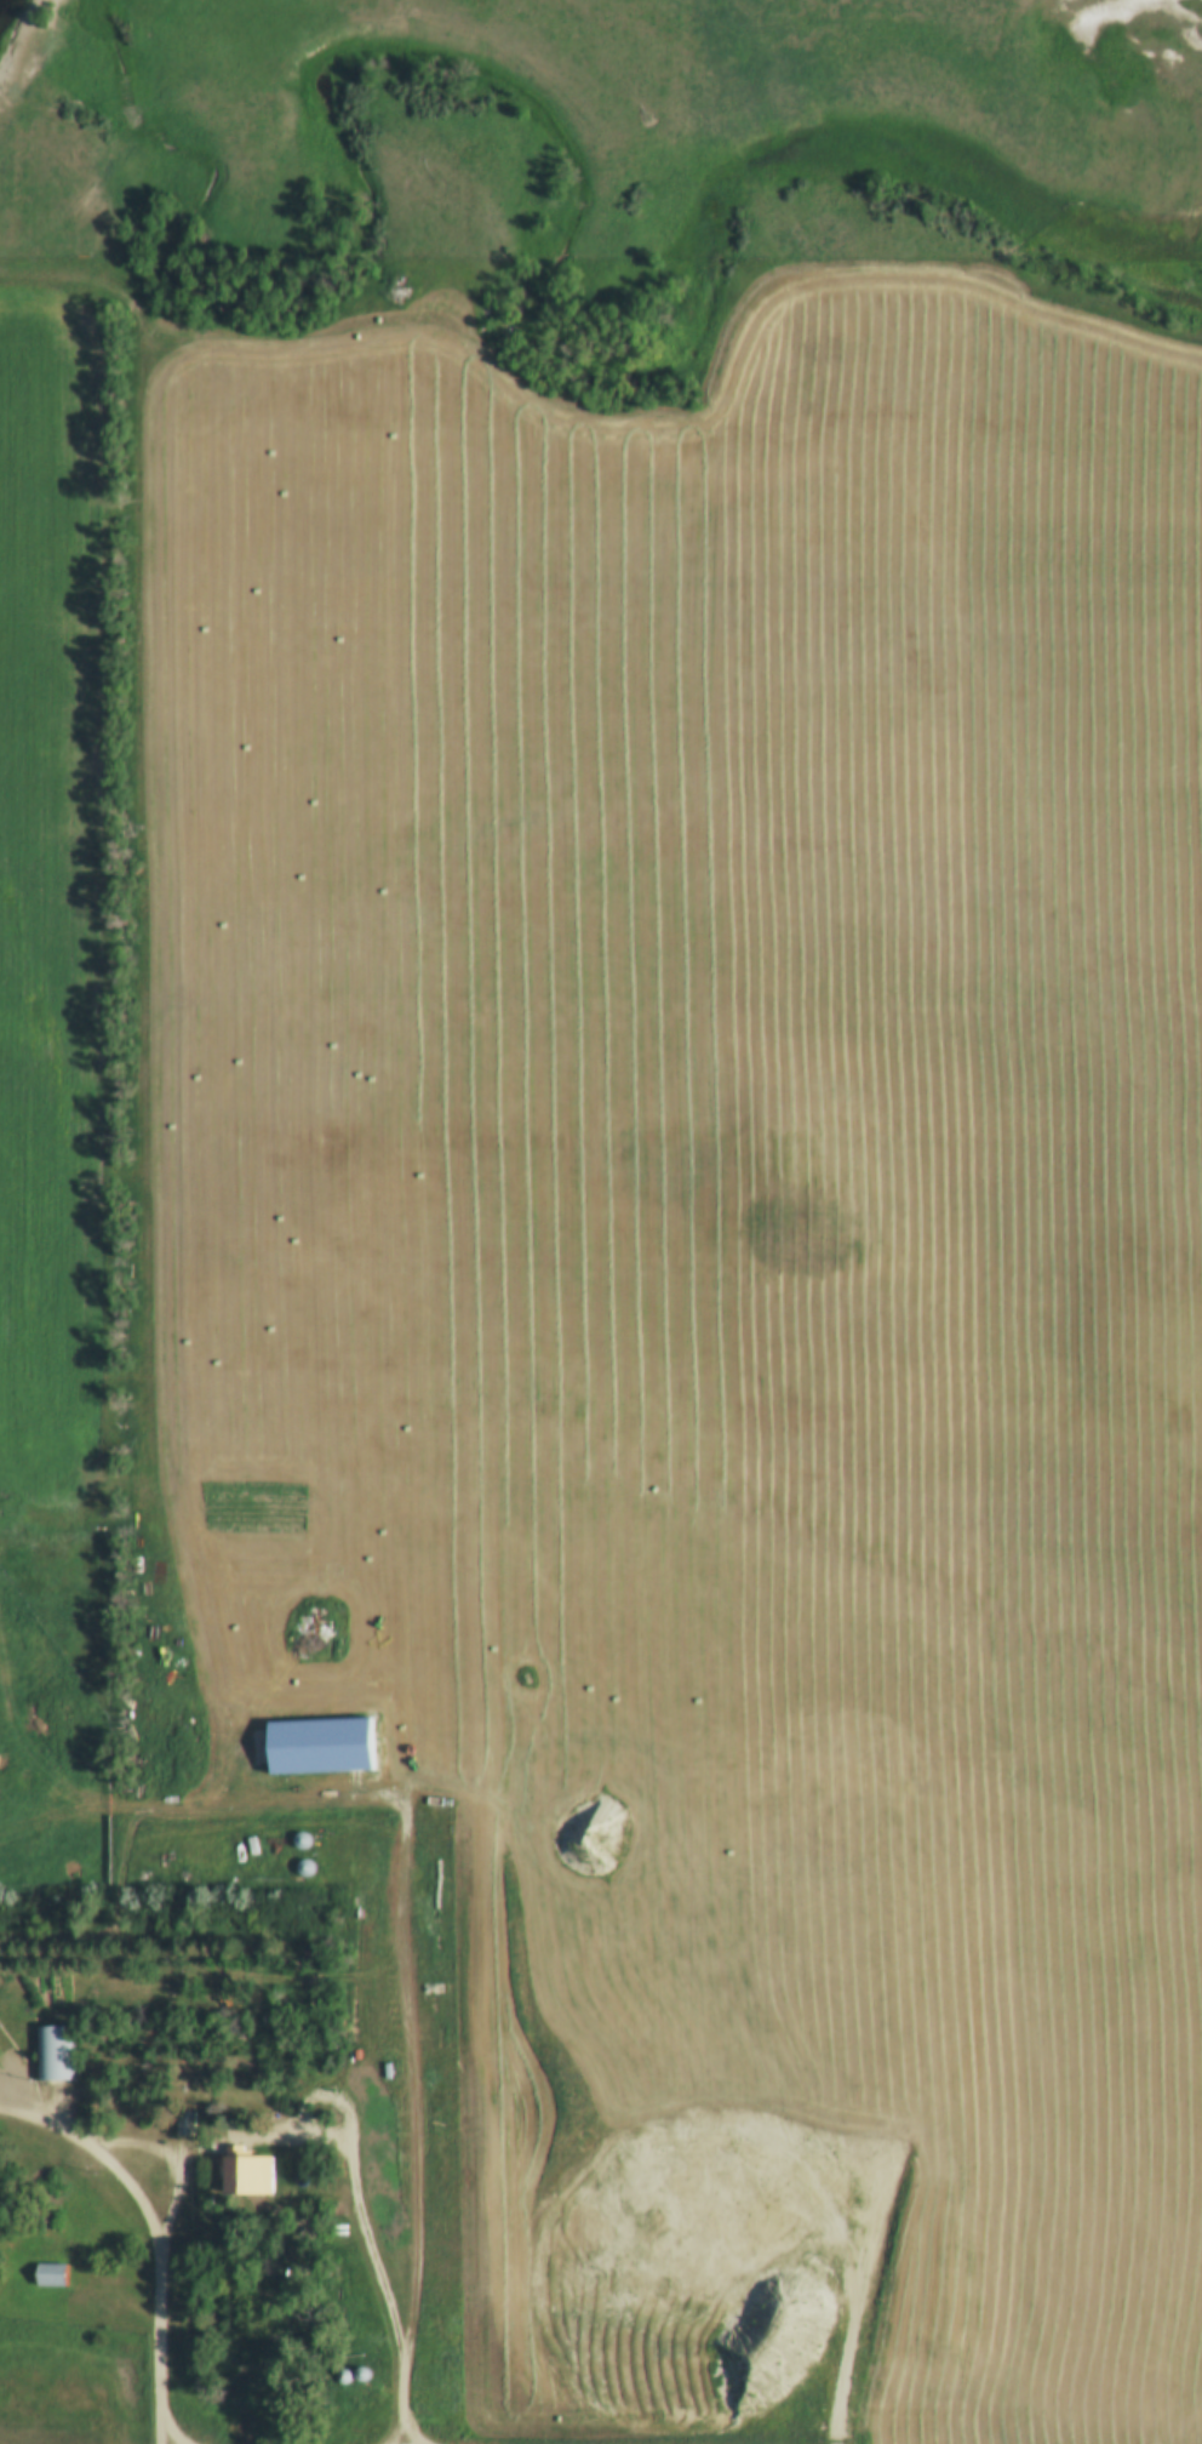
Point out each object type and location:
road: (148, 1057)
building: (299, 1839)
building: (52, 2054)
quarry: (729, 2066)
building: (184, 2123)
road: (128, 2146)
building: (235, 2170)
building: (48, 2274)
road: (161, 2283)

